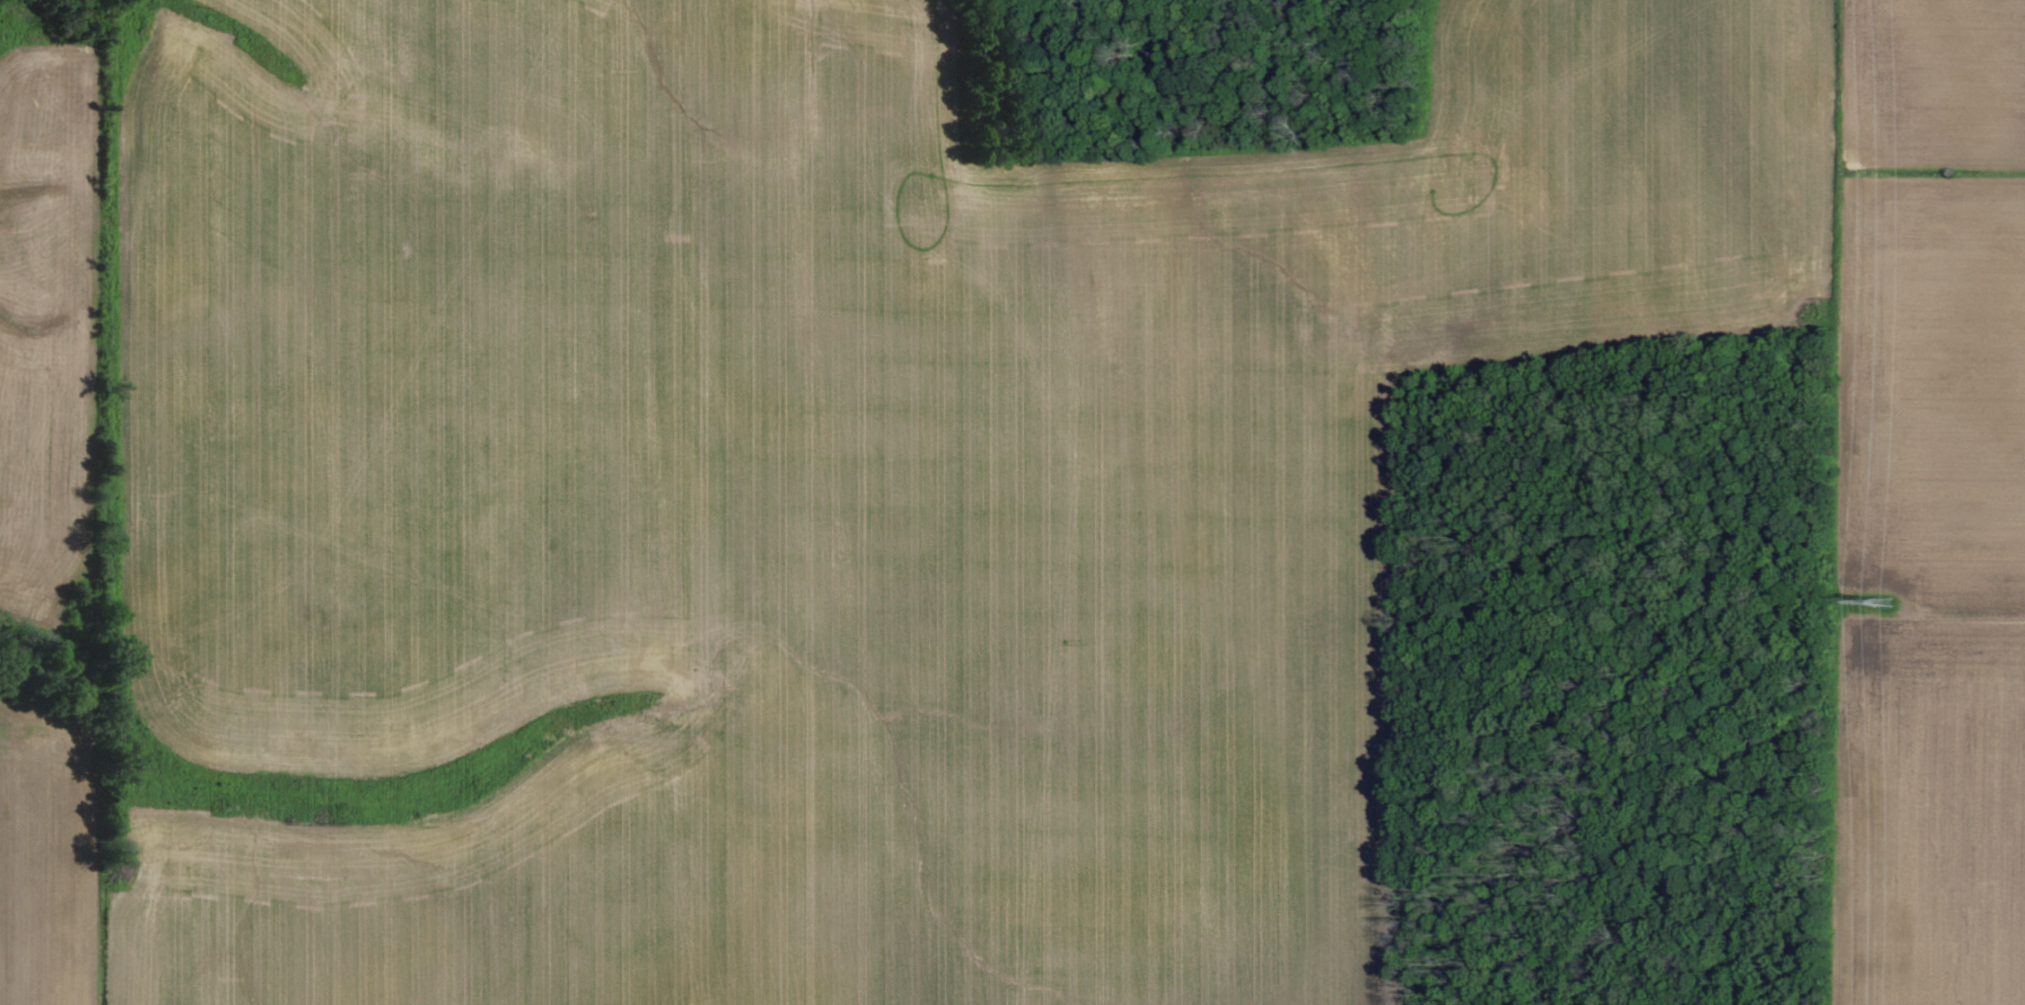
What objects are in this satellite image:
power tower: (1884, 603)

